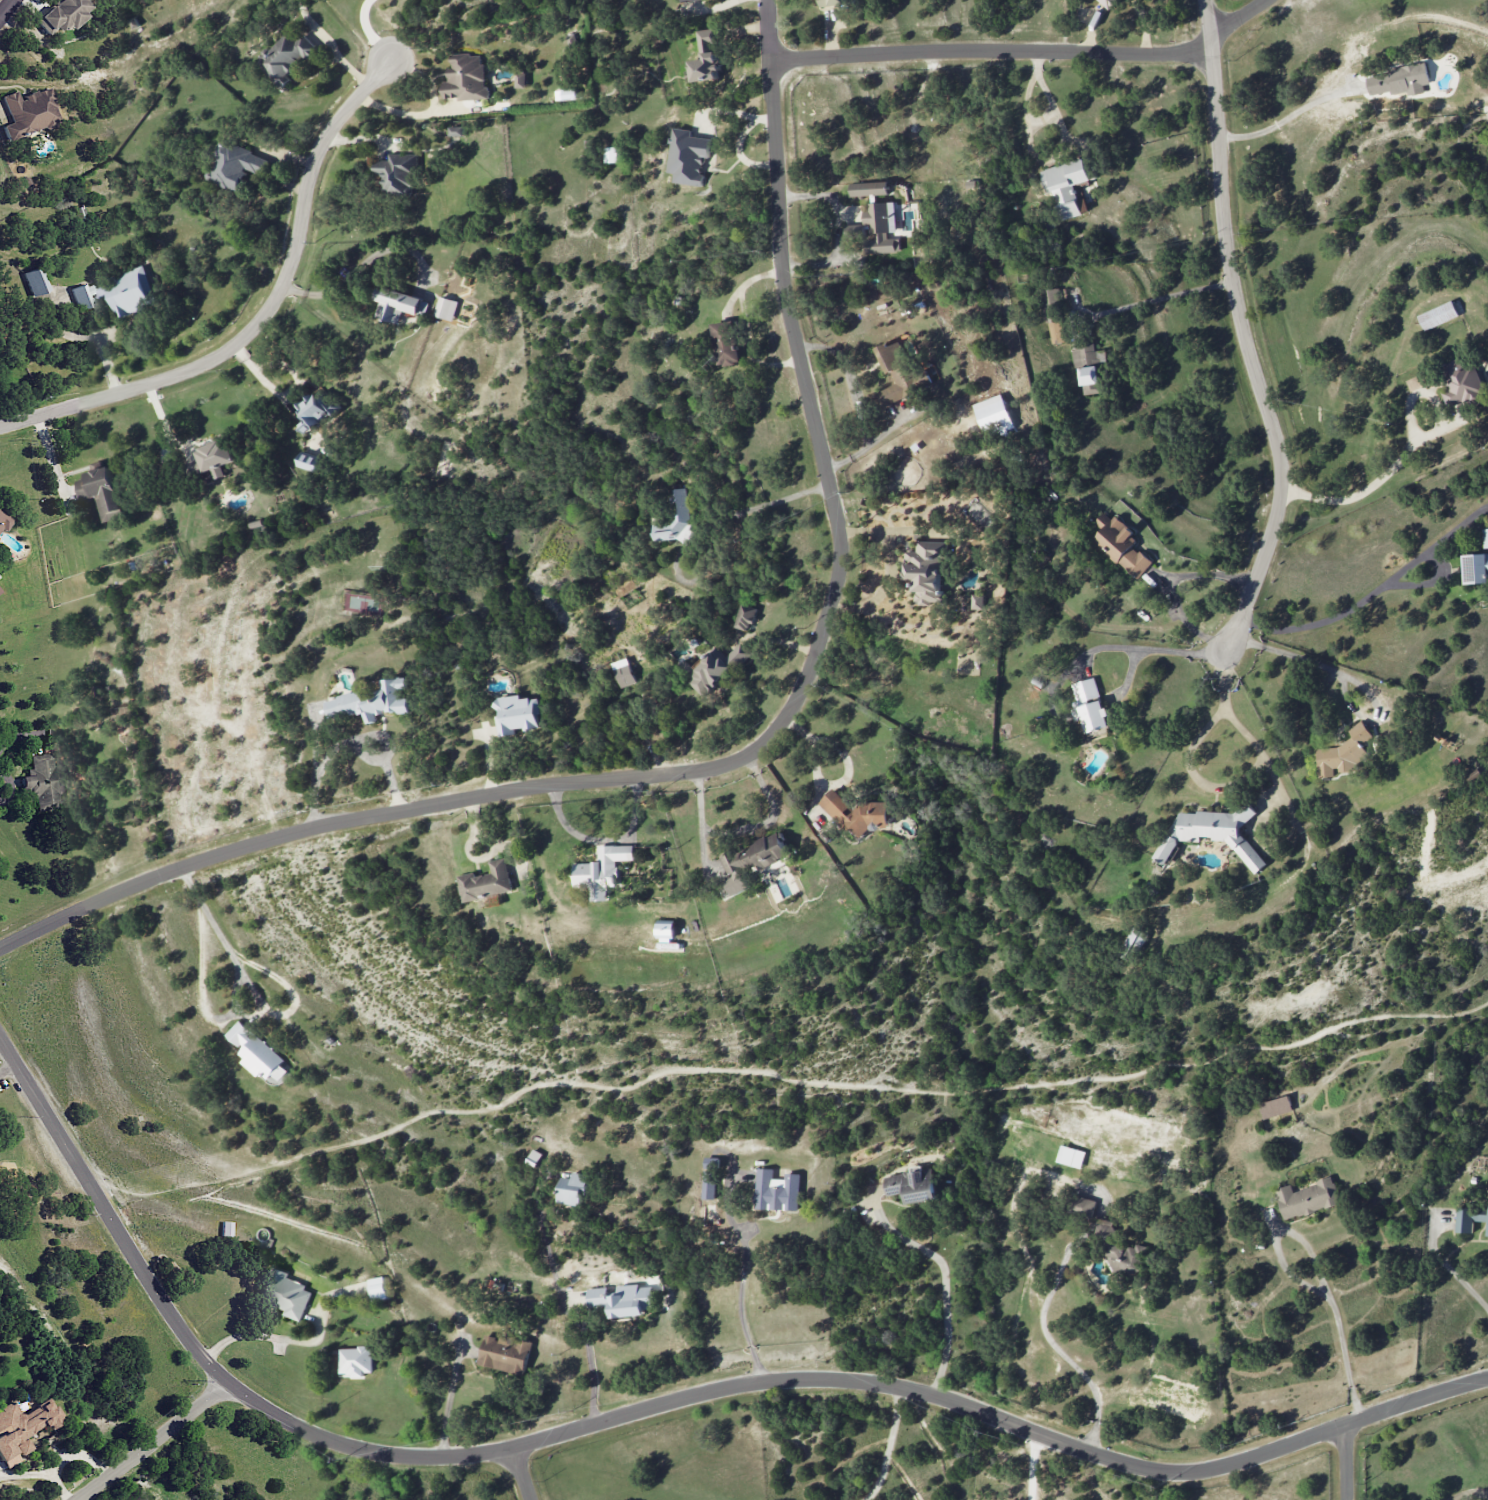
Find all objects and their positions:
building: (688, 0)
building: (832, 3)
building: (1106, 3)
road: (6, 8)
building: (63, 14)
road: (367, 32)
road: (1029, 51)
building: (285, 55)
building: (704, 61)
building: (466, 77)
building: (520, 80)
building: (1398, 80)
road: (396, 112)
building: (27, 113)
road: (1287, 114)
building: (456, 131)
road: (1052, 153)
building: (611, 155)
building: (688, 156)
building: (234, 166)
building: (398, 173)
building: (1066, 185)
building: (869, 188)
building: (881, 227)
road: (358, 267)
building: (35, 281)
building: (131, 295)
building: (82, 296)
road: (1162, 296)
building: (398, 305)
building: (446, 309)
road: (268, 315)
building: (1053, 315)
building: (1437, 315)
road: (1245, 331)
building: (724, 343)
building: (1089, 366)
building: (898, 375)
building: (1460, 382)
road: (283, 389)
building: (312, 411)
building: (993, 415)
road: (1405, 448)
building: (212, 459)
building: (307, 461)
building: (100, 490)
building: (673, 519)
building: (3, 522)
building: (1121, 545)
building: (1477, 565)
building: (926, 571)
road: (1169, 583)
road: (1375, 588)
building: (978, 601)
building: (745, 616)
road: (1145, 648)
building: (717, 669)
building: (623, 672)
road: (1345, 676)
building: (372, 701)
building: (1089, 706)
building: (516, 714)
road: (346, 742)
road: (753, 751)
building: (1343, 752)
building: (47, 782)
road: (10, 787)
building: (858, 813)
road: (1297, 818)
road: (741, 827)
building: (1212, 833)
road: (601, 839)
building: (750, 862)
building: (601, 870)
building: (486, 881)
building: (665, 928)
road: (216, 930)
building: (1132, 944)
building: (257, 1053)
building: (1275, 1107)
park: (25, 1155)
building: (1071, 1156)
building: (709, 1177)
building: (912, 1185)
building: (572, 1188)
building: (776, 1191)
building: (1306, 1198)
building: (1468, 1219)
building: (1487, 1228)
building: (1109, 1239)
road: (1447, 1266)
road: (944, 1281)
building: (378, 1288)
building: (286, 1293)
building: (622, 1299)
road: (739, 1306)
road: (1337, 1335)
road: (1053, 1344)
building: (505, 1353)
building: (355, 1361)
road: (590, 1367)
road: (449, 1402)
road: (654, 1406)
building: (22, 1428)
road: (152, 1441)
road: (886, 1446)
road: (1347, 1462)
road: (1033, 1466)
road: (523, 1473)
road: (1470, 1492)

